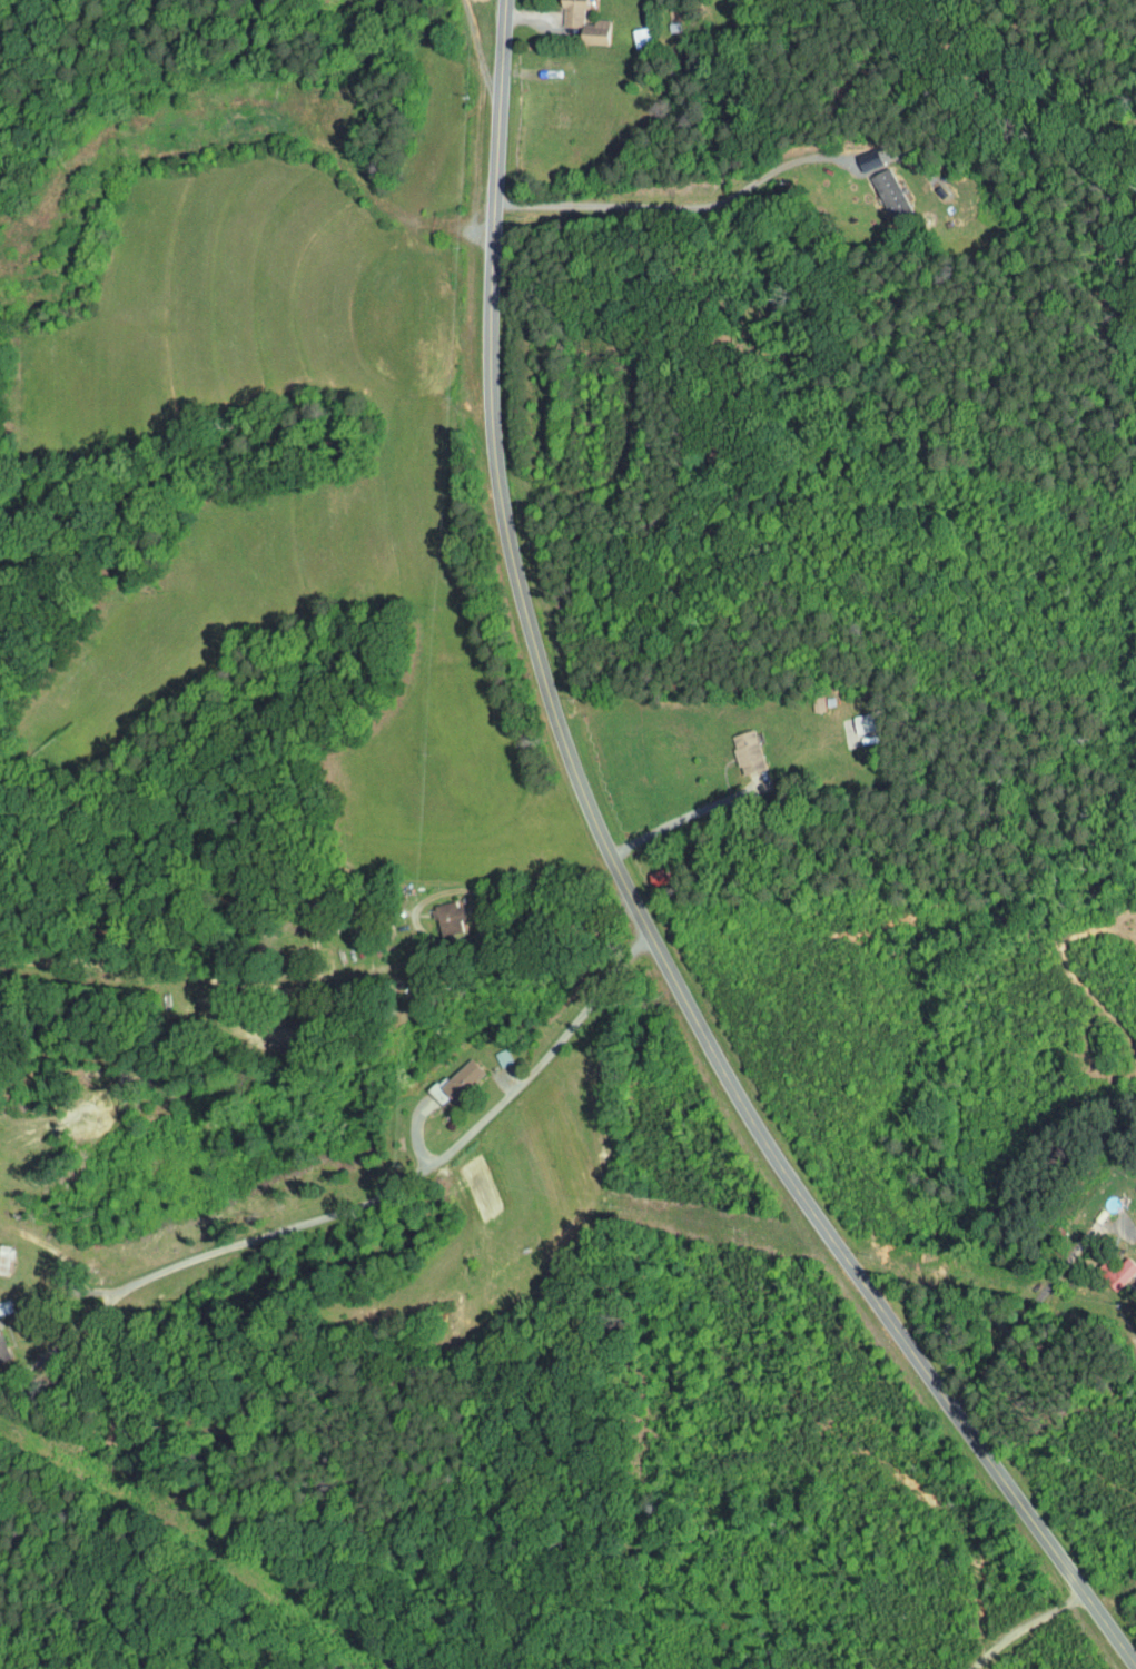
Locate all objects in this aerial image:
building: (571, 19)
building: (625, 29)
road: (480, 50)
building: (875, 185)
road: (671, 205)
building: (847, 717)
building: (733, 745)
road: (685, 814)
road: (454, 889)
road: (632, 896)
building: (436, 912)
building: (442, 1075)
road: (455, 1145)
building: (1103, 1265)
road: (1029, 1308)
road: (95, 1312)
road: (1025, 1624)

